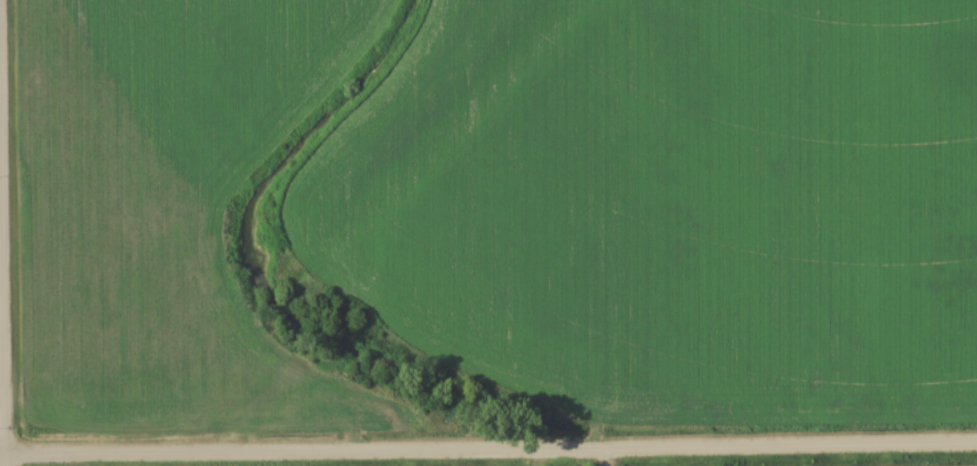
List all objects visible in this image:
road: (488, 451)

